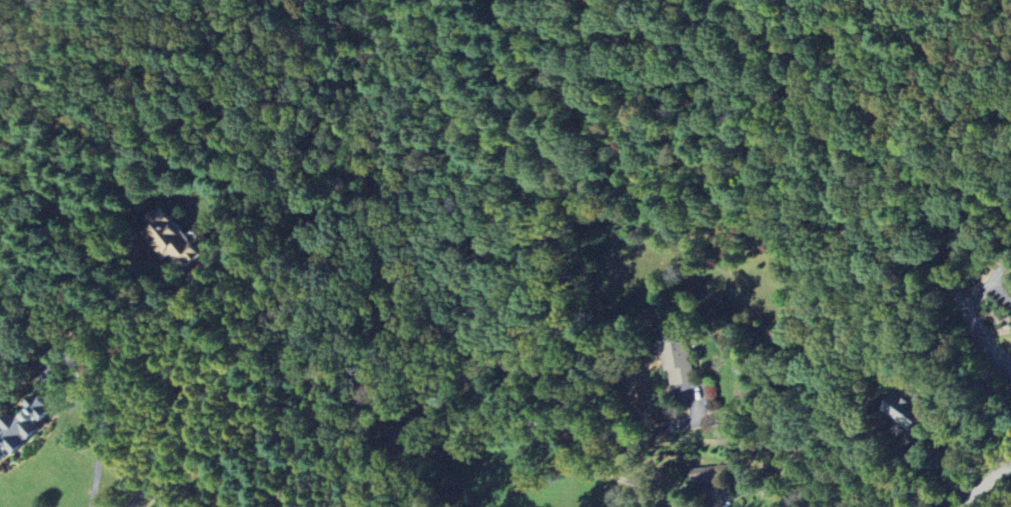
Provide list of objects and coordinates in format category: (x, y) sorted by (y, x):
building: (172, 239)
road: (1001, 272)
road: (1001, 292)
road: (978, 294)
road: (985, 341)
road: (186, 397)
building: (906, 411)
road: (512, 417)
building: (16, 434)
road: (99, 439)
road: (573, 455)
road: (683, 485)
road: (985, 485)
road: (652, 493)

